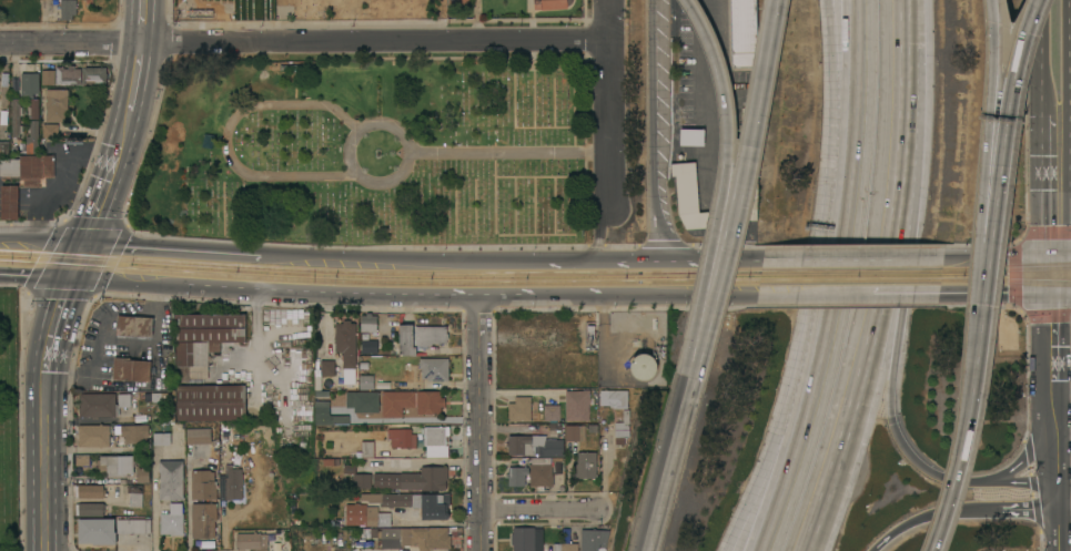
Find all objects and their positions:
building: (458, 3)
building: (552, 3)
building: (64, 8)
park: (307, 13)
road: (143, 21)
building: (744, 33)
road: (1069, 37)
road: (304, 42)
road: (1039, 58)
building: (94, 74)
building: (68, 75)
building: (49, 76)
road: (137, 76)
building: (29, 83)
road: (833, 89)
road: (845, 90)
building: (55, 104)
building: (33, 108)
road: (609, 108)
road: (1069, 116)
building: (16, 118)
road: (125, 129)
road: (649, 129)
building: (50, 130)
road: (225, 134)
building: (32, 136)
building: (691, 136)
building: (4, 147)
park: (374, 151)
road: (509, 151)
road: (1006, 156)
road: (989, 157)
road: (1070, 160)
building: (28, 167)
road: (398, 174)
road: (727, 186)
road: (1044, 186)
road: (745, 192)
road: (105, 195)
building: (686, 196)
building: (9, 202)
road: (1069, 210)
road: (600, 235)
road: (4, 237)
road: (48, 241)
traffic signals: (89, 243)
road: (173, 248)
road: (83, 254)
road: (1063, 255)
road: (1001, 256)
traffic signals: (1057, 256)
road: (620, 257)
road: (855, 257)
road: (367, 258)
railway: (1006, 266)
road: (830, 271)
railway: (850, 271)
road: (73, 273)
railway: (380, 273)
road: (34, 276)
road: (1054, 276)
road: (1062, 276)
traffic signals: (70, 279)
road: (886, 280)
road: (111, 283)
railway: (378, 283)
railway: (850, 284)
railway: (1006, 284)
road: (1061, 295)
road: (850, 296)
road: (996, 296)
traffic signals: (1052, 296)
road: (719, 297)
road: (414, 298)
building: (368, 323)
road: (51, 324)
building: (134, 325)
parking lot: (1009, 333)
building: (430, 335)
building: (203, 339)
building: (406, 339)
building: (370, 346)
building: (347, 348)
road: (895, 355)
road: (1052, 358)
building: (644, 366)
building: (327, 368)
building: (434, 368)
building: (131, 369)
building: (366, 381)
road: (1062, 385)
building: (614, 398)
building: (363, 401)
building: (411, 401)
building: (211, 402)
building: (102, 404)
road: (481, 405)
building: (577, 405)
building: (519, 409)
building: (552, 412)
building: (329, 415)
park: (9, 422)
building: (623, 425)
road: (1063, 431)
building: (134, 432)
building: (572, 432)
road: (966, 435)
building: (94, 436)
building: (199, 436)
building: (161, 438)
building: (403, 438)
building: (436, 440)
building: (535, 446)
building: (367, 449)
road: (768, 457)
road: (785, 457)
road: (1060, 458)
building: (82, 459)
road: (43, 461)
building: (117, 465)
building: (558, 465)
building: (585, 465)
road: (668, 465)
road: (1022, 465)
building: (143, 468)
building: (532, 472)
building: (358, 477)
building: (171, 479)
building: (414, 479)
road: (1018, 481)
building: (231, 483)
building: (203, 484)
building: (90, 491)
building: (135, 494)
road: (1065, 500)
building: (414, 502)
building: (90, 508)
road: (997, 509)
road: (539, 510)
building: (366, 516)
building: (172, 520)
building: (204, 520)
road: (1061, 523)
building: (133, 526)
road: (899, 528)
building: (97, 531)
road: (482, 531)
building: (415, 538)
building: (526, 538)
building: (594, 539)
building: (252, 541)
building: (566, 547)

